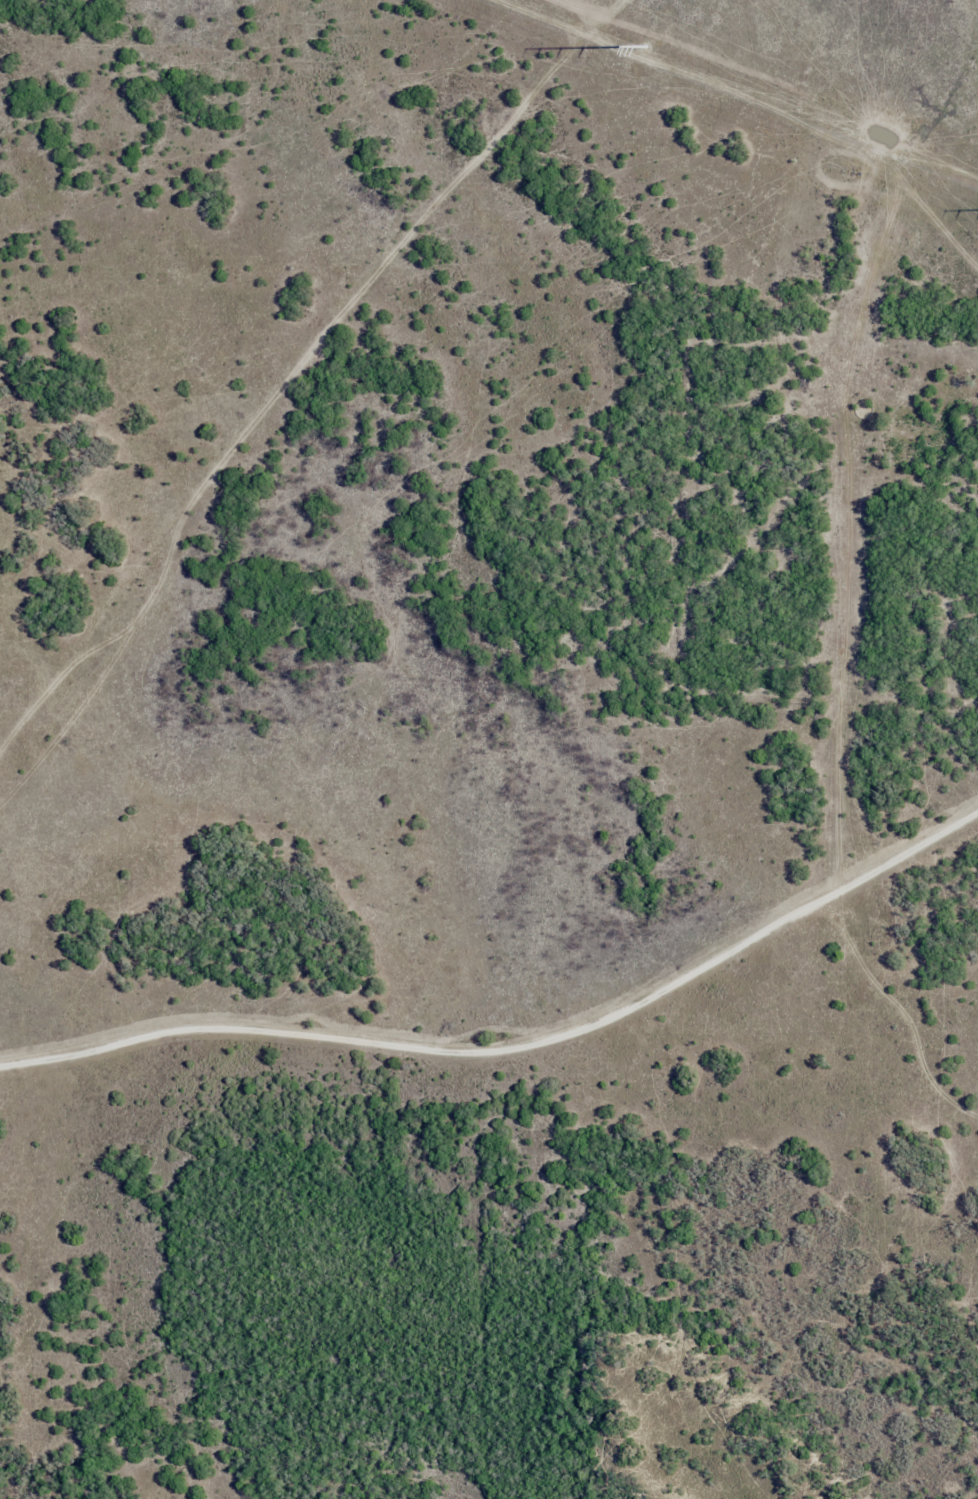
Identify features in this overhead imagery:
power tower: (645, 52)
road: (954, 325)
road: (542, 485)
road: (511, 1009)

